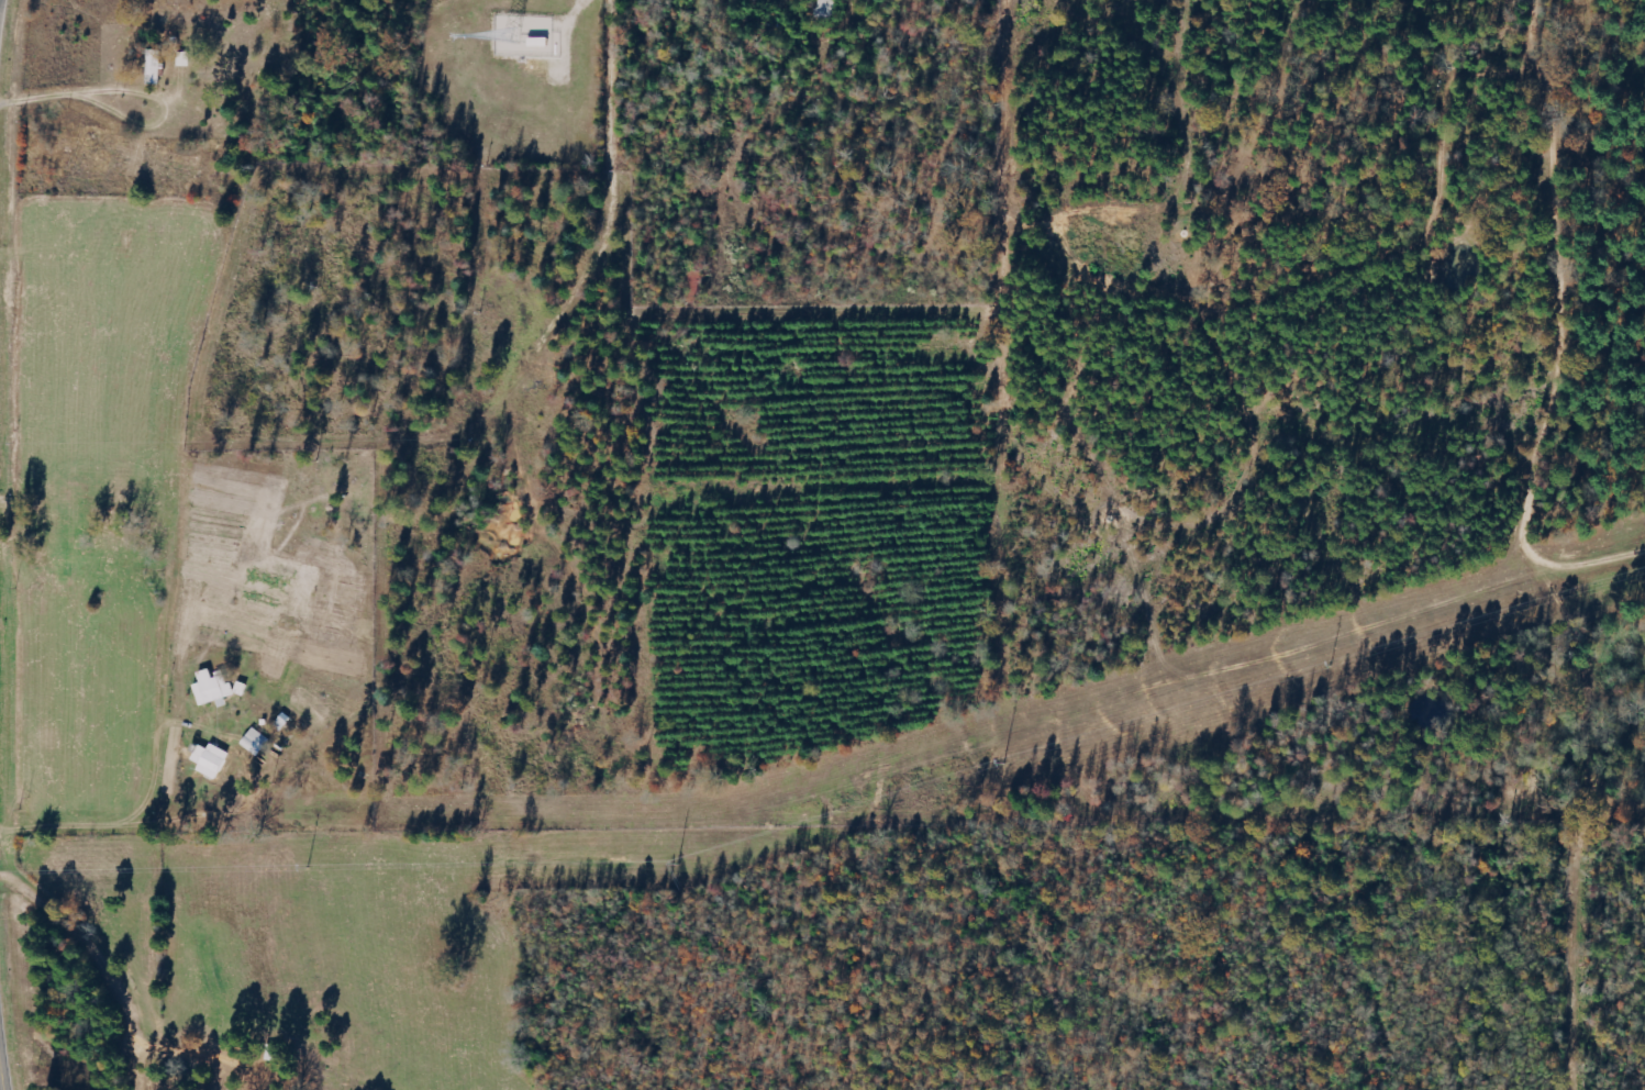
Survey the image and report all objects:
road: (2, 15)
building: (214, 688)
building: (212, 760)
road: (4, 1061)

